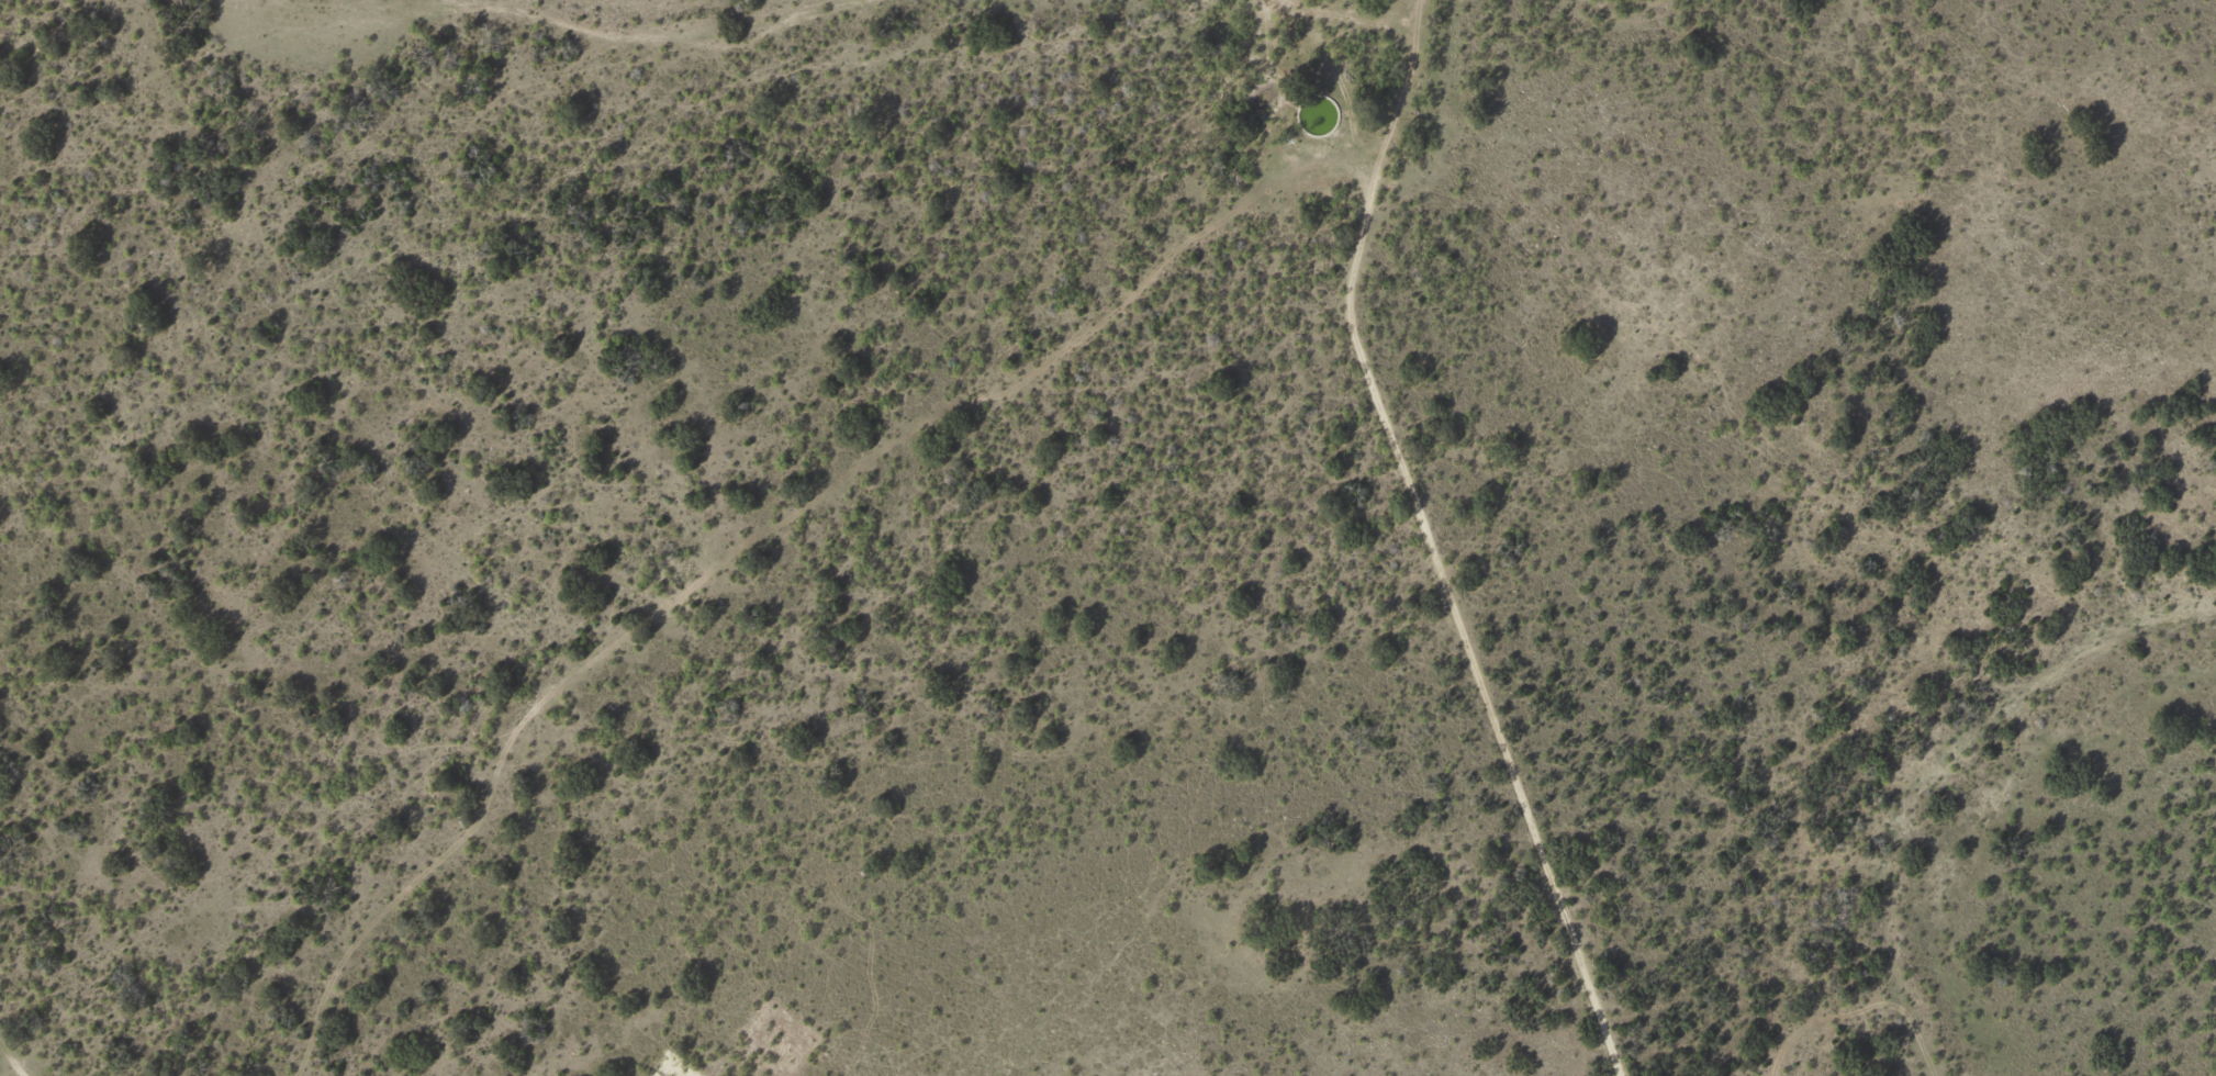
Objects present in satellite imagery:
road: (718, 524)
road: (1407, 534)

